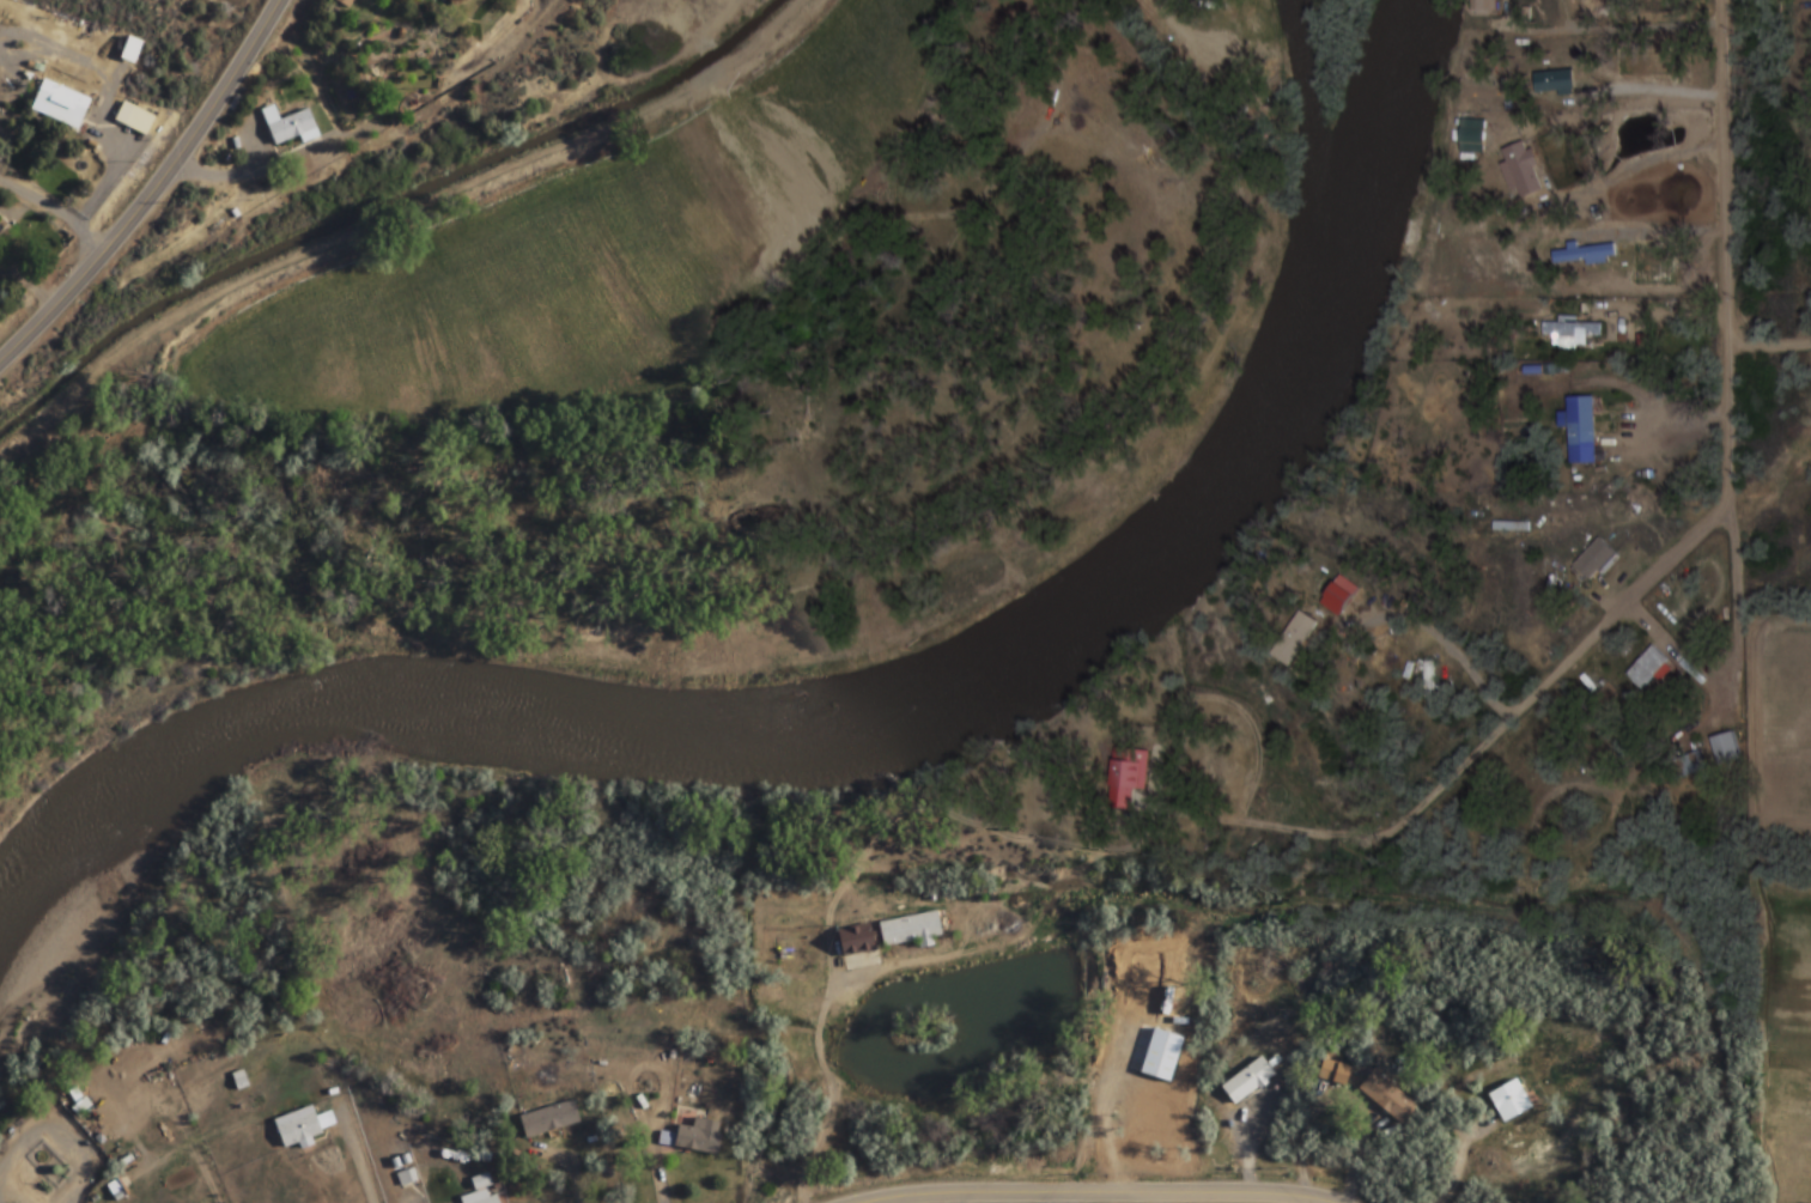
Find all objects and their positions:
building: (344, 2)
building: (455, 2)
building: (1487, 7)
building: (130, 49)
building: (1556, 84)
building: (61, 103)
building: (1585, 114)
river: (1313, 116)
building: (133, 119)
building: (290, 124)
road: (278, 165)
building: (1525, 170)
road: (150, 188)
building: (1, 231)
building: (1586, 255)
building: (1574, 333)
building: (1582, 427)
road: (1716, 514)
building: (1597, 561)
building: (1295, 638)
building: (1651, 669)
river: (862, 719)
building: (1130, 777)
building: (910, 930)
building: (855, 941)
building: (1151, 990)
building: (1160, 1055)
building: (1332, 1069)
building: (1246, 1081)
building: (1386, 1098)
building: (1508, 1100)
building: (548, 1119)
building: (298, 1128)
building: (698, 1137)
road: (1098, 1193)
building: (487, 1199)

